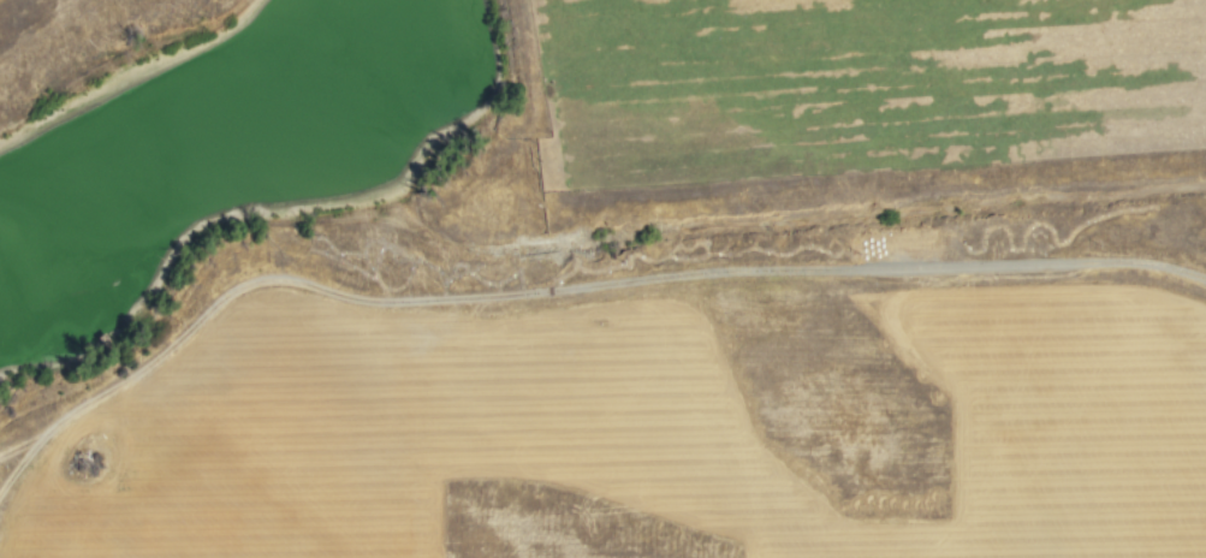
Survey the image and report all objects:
road: (571, 291)

